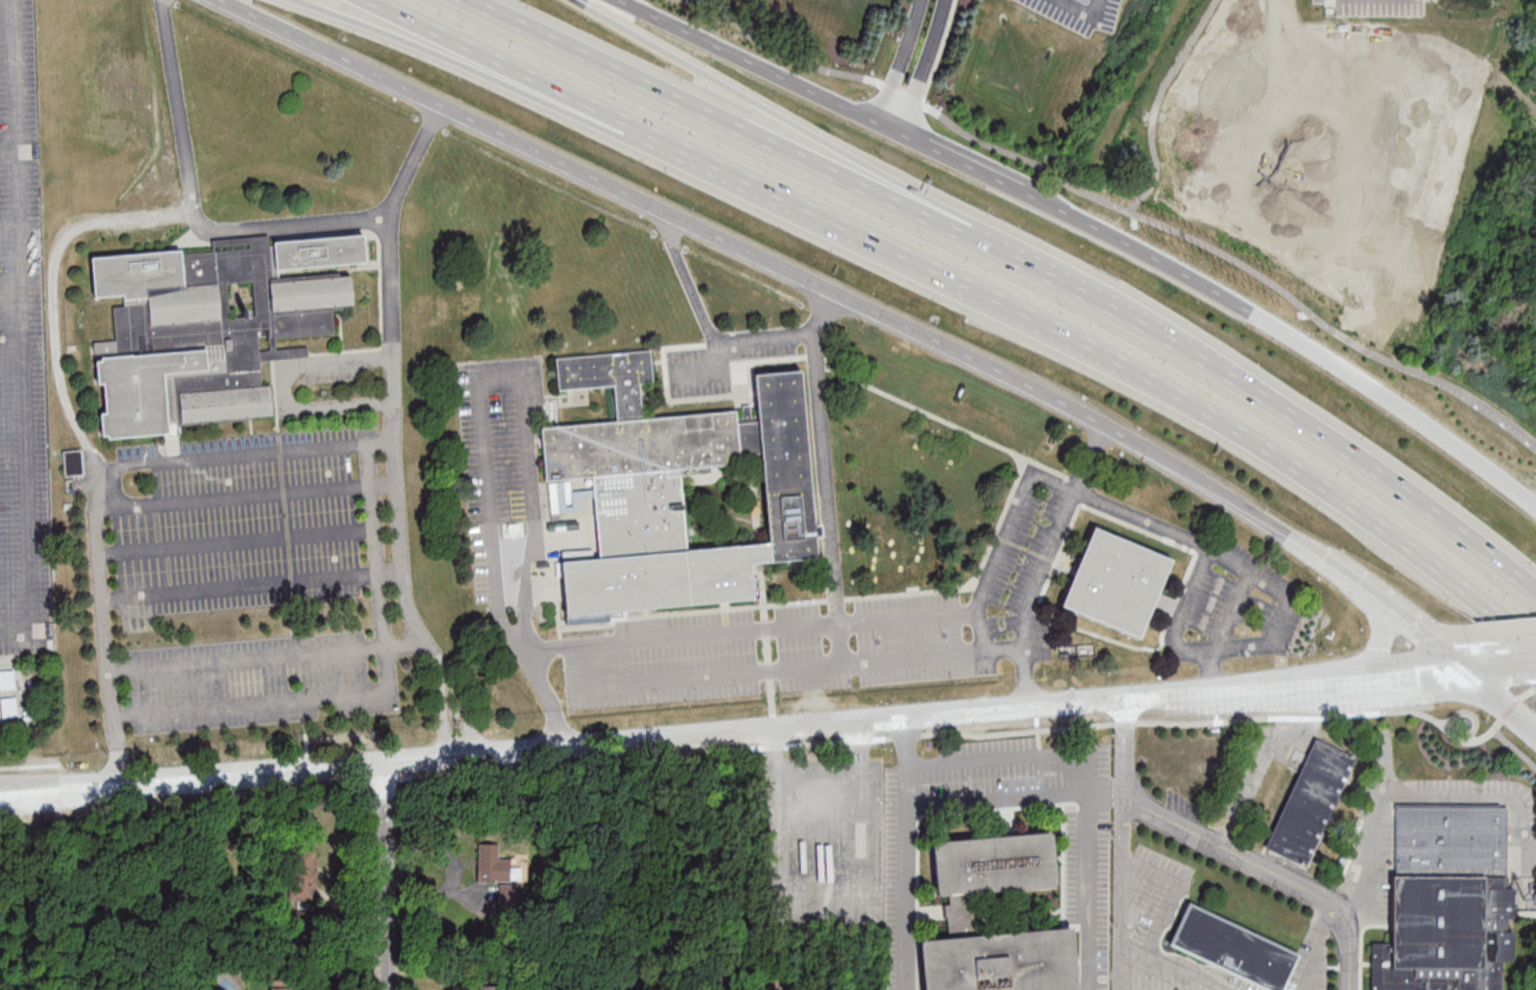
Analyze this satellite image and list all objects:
parking lot: (1079, 9)
road: (1083, 10)
road: (460, 62)
road: (901, 62)
road: (496, 63)
road: (760, 67)
road: (927, 68)
road: (773, 117)
road: (715, 119)
road: (8, 148)
road: (705, 162)
road: (965, 166)
road: (194, 207)
road: (9, 226)
road: (790, 270)
road: (1122, 317)
building: (210, 326)
road: (20, 330)
road: (1289, 336)
road: (716, 343)
road: (11, 367)
road: (285, 386)
road: (390, 390)
road: (1176, 394)
building: (73, 462)
road: (1531, 471)
road: (103, 488)
building: (679, 491)
road: (1406, 494)
road: (233, 495)
road: (513, 510)
road: (238, 542)
road: (1221, 555)
road: (1040, 570)
building: (1115, 581)
road: (1354, 583)
road: (243, 588)
road: (1392, 613)
road: (890, 618)
road: (1492, 628)
road: (1434, 634)
road: (637, 640)
road: (1379, 642)
road: (406, 643)
road: (1013, 651)
road: (1437, 652)
road: (249, 659)
road: (1521, 662)
road: (1480, 666)
traffic signals: (1455, 669)
road: (1398, 674)
building: (7, 679)
road: (1527, 692)
road: (377, 695)
road: (1495, 702)
road: (1510, 708)
road: (1470, 711)
road: (464, 715)
road: (444, 717)
road: (1135, 721)
road: (671, 739)
road: (1514, 748)
road: (998, 760)
parking lot: (1265, 764)
road: (29, 765)
road: (1261, 768)
road: (374, 780)
road: (1483, 797)
road: (998, 800)
building: (1312, 806)
parking lot: (1190, 816)
parking lot: (1374, 824)
road: (1374, 835)
building: (1453, 843)
road: (1124, 844)
road: (1087, 846)
road: (908, 853)
building: (491, 864)
road: (1269, 870)
building: (303, 875)
road: (384, 877)
building: (170, 885)
building: (507, 898)
building: (962, 912)
parking lot: (1163, 927)
road: (1157, 932)
building: (269, 934)
building: (1448, 935)
road: (1317, 946)
building: (1234, 951)
road: (1360, 951)
road: (1134, 959)
road: (1366, 964)
parking lot: (1308, 978)
building: (280, 987)

